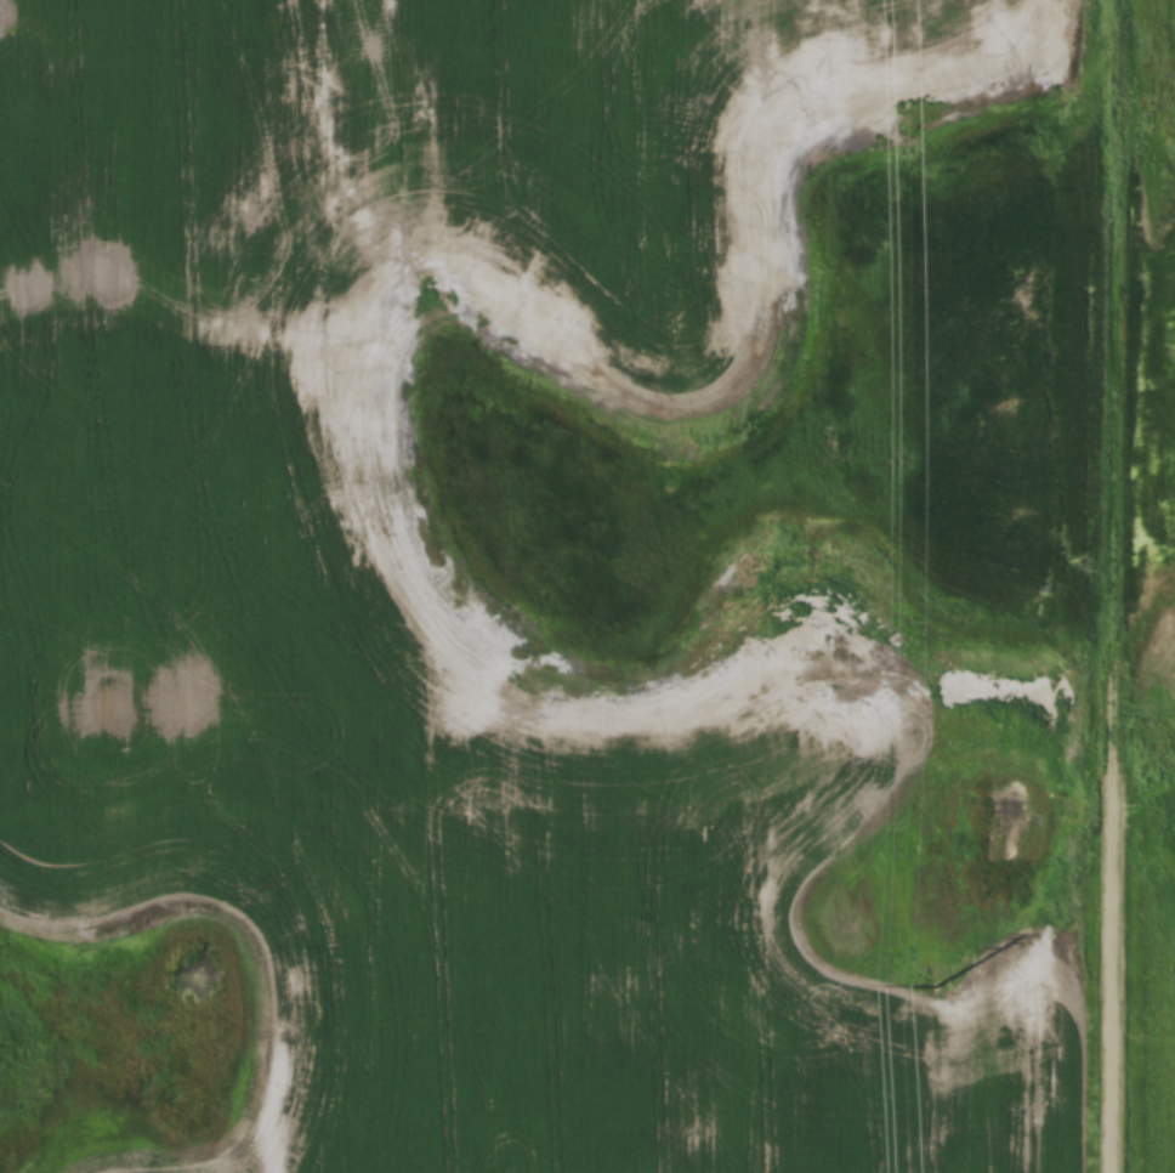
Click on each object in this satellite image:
road: (1114, 585)
power tower: (953, 994)

